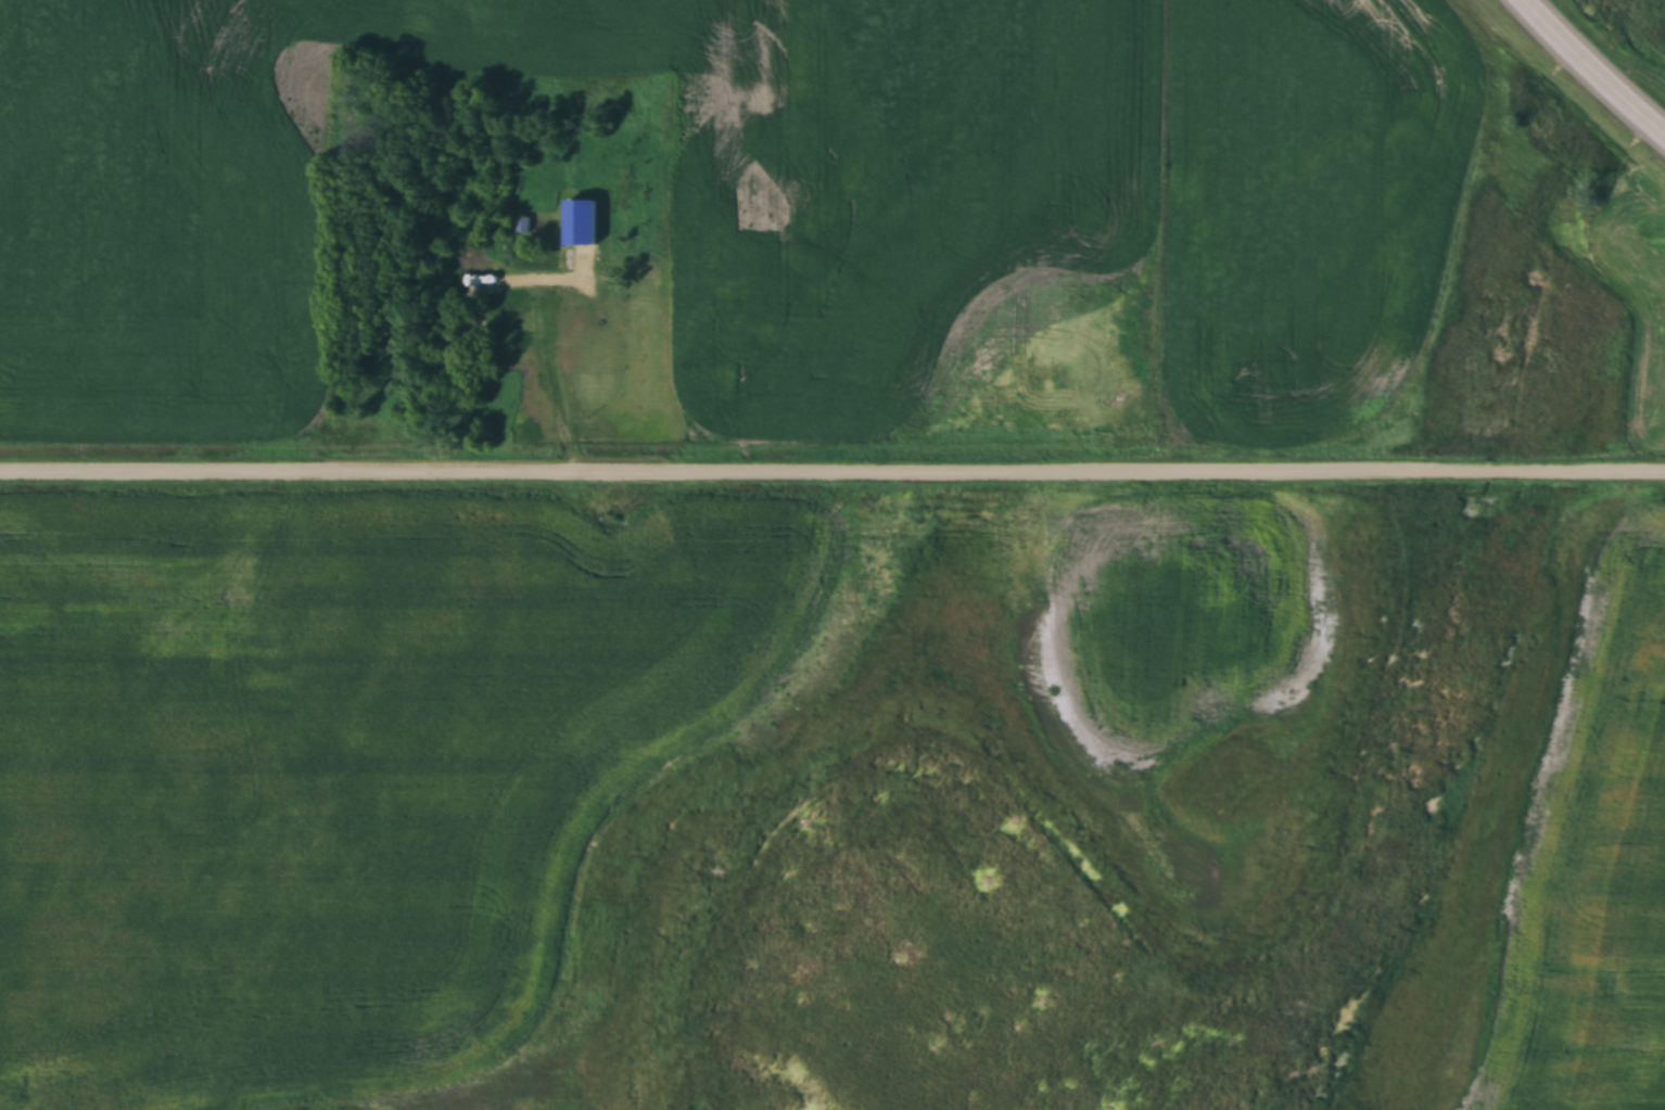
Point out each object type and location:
road: (1591, 71)
road: (832, 474)

